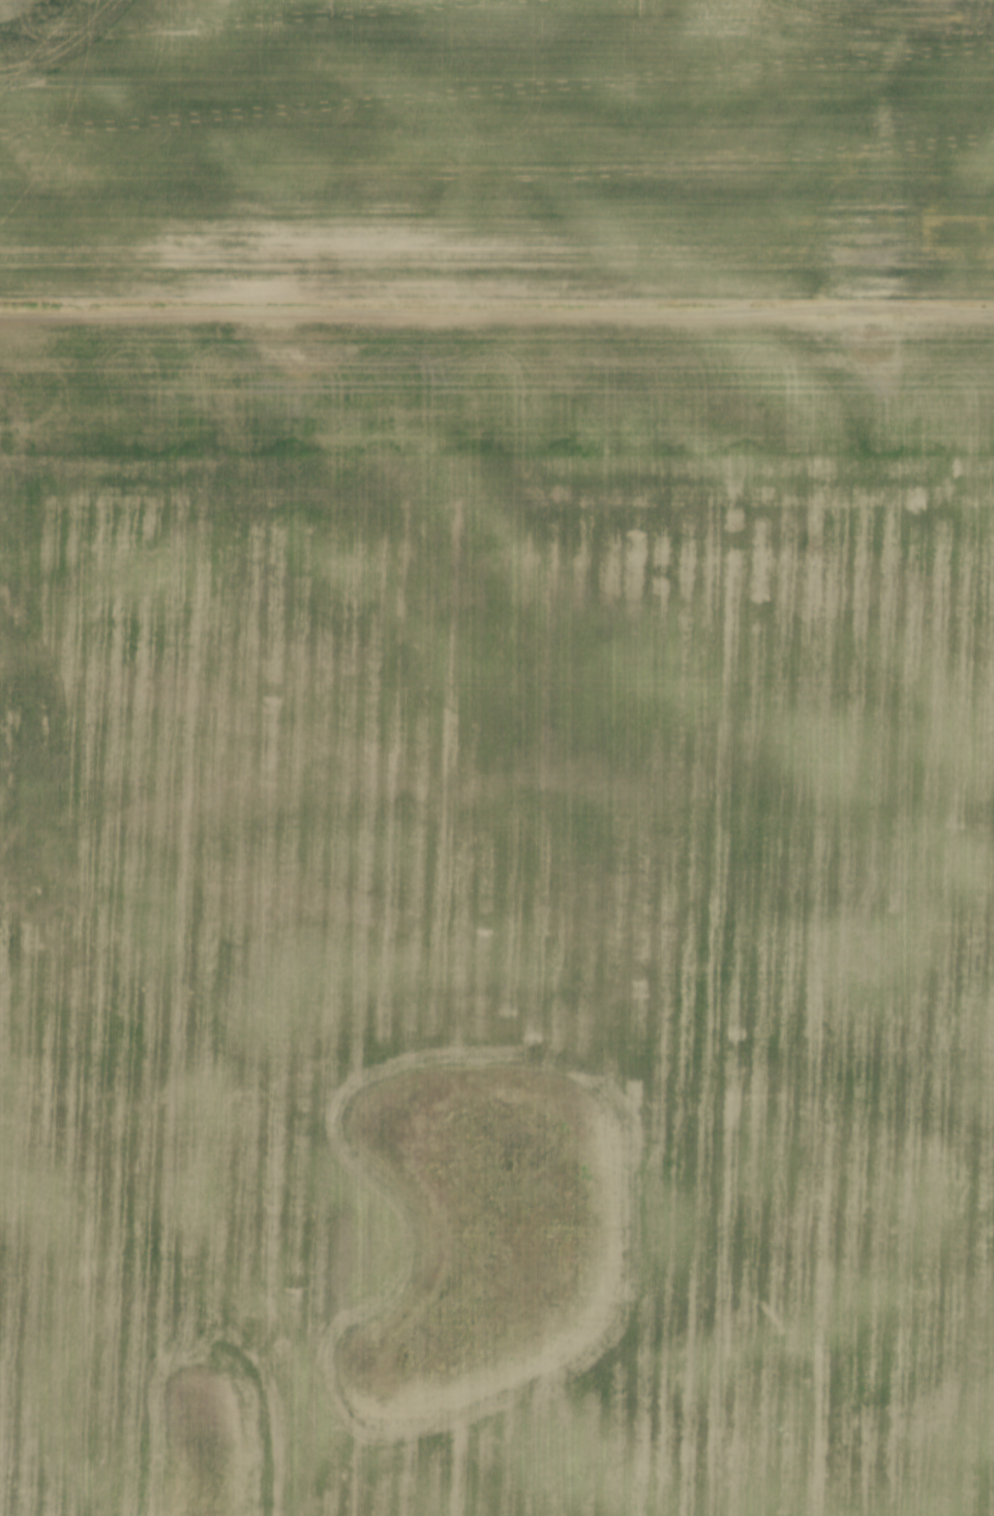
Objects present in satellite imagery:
road: (497, 313)

